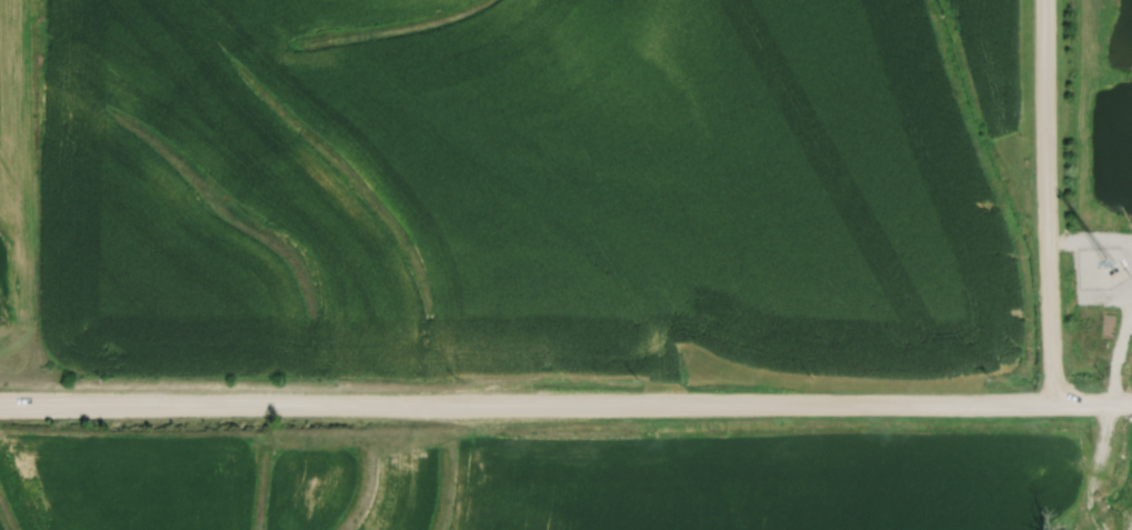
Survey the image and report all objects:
road: (1046, 204)
road: (565, 409)

